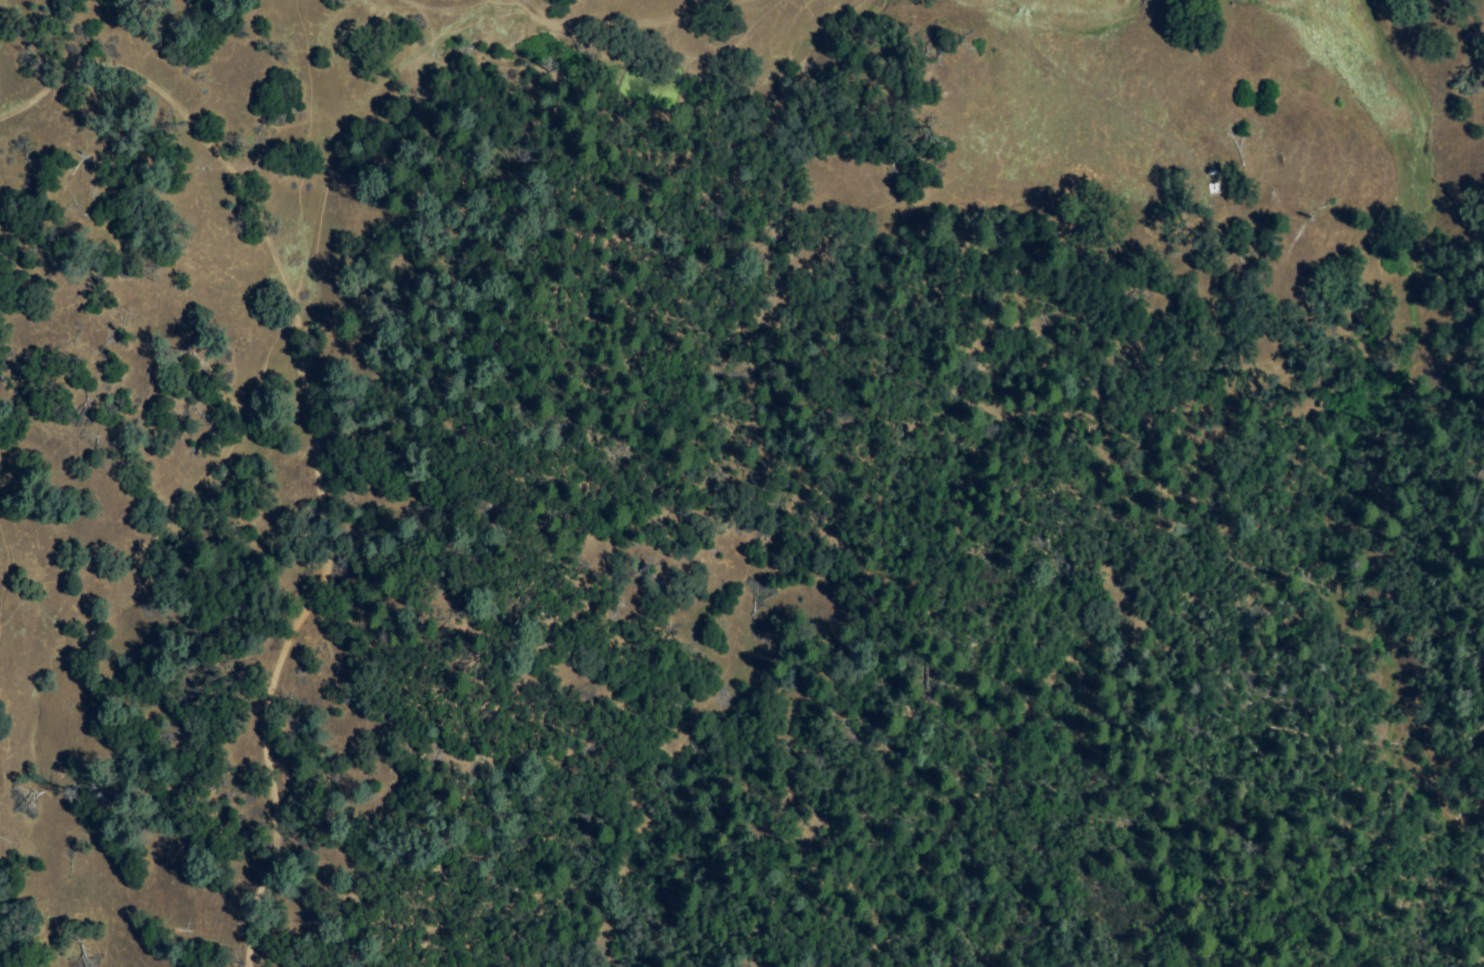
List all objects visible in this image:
road: (309, 429)

